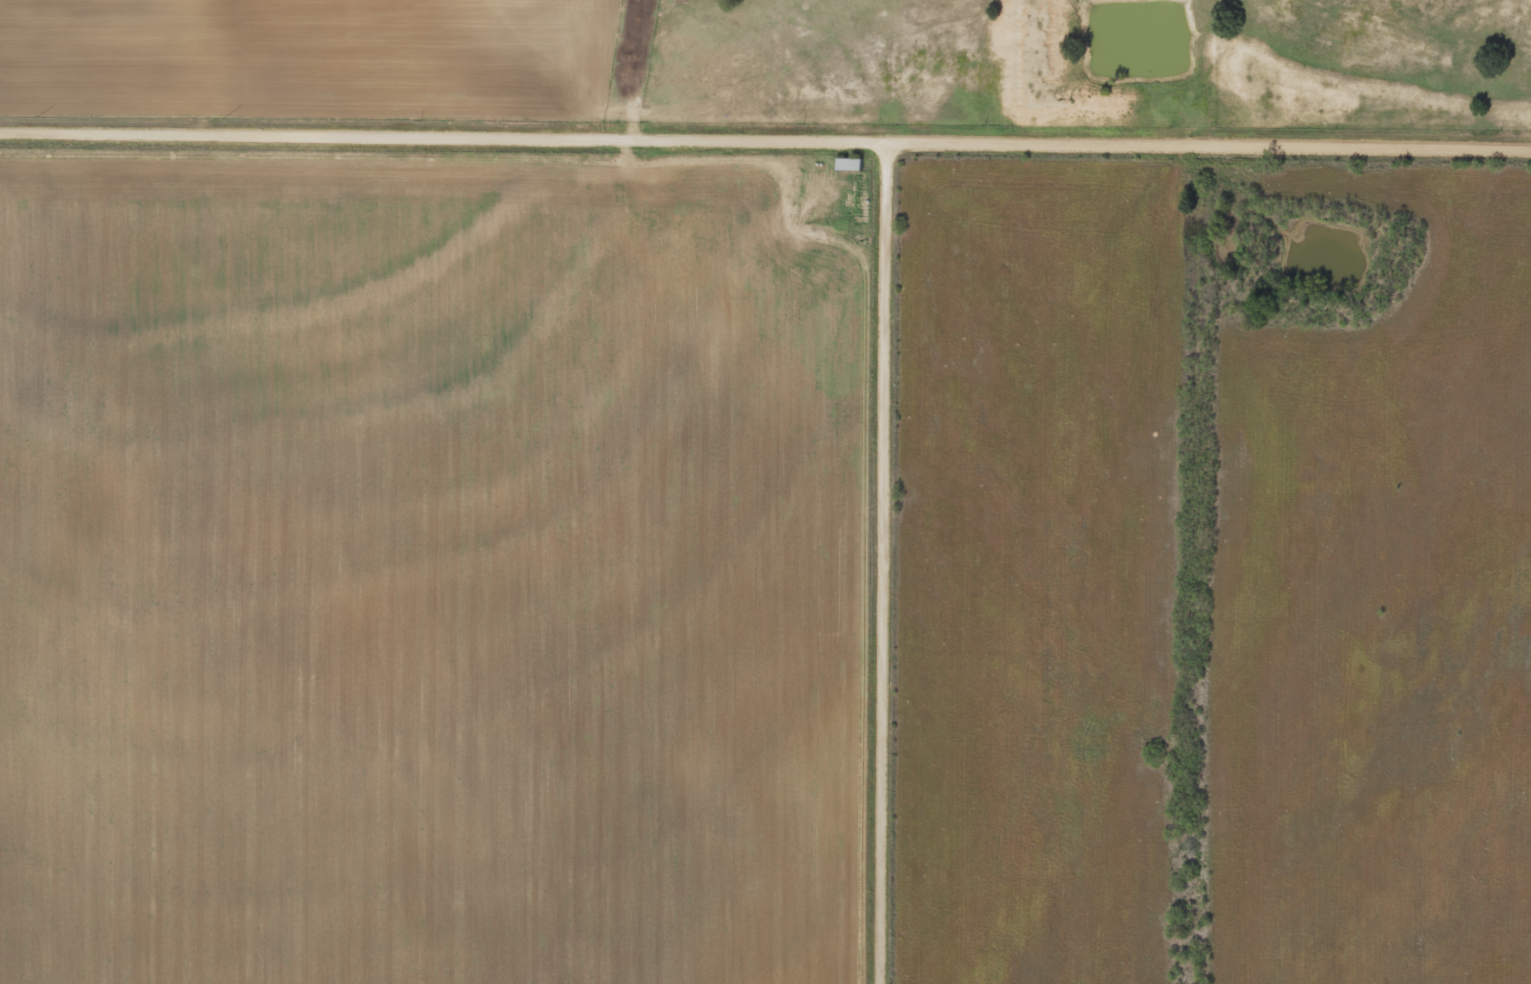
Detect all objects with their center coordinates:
road: (926, 93)
building: (845, 164)
road: (765, 177)
road: (883, 581)

